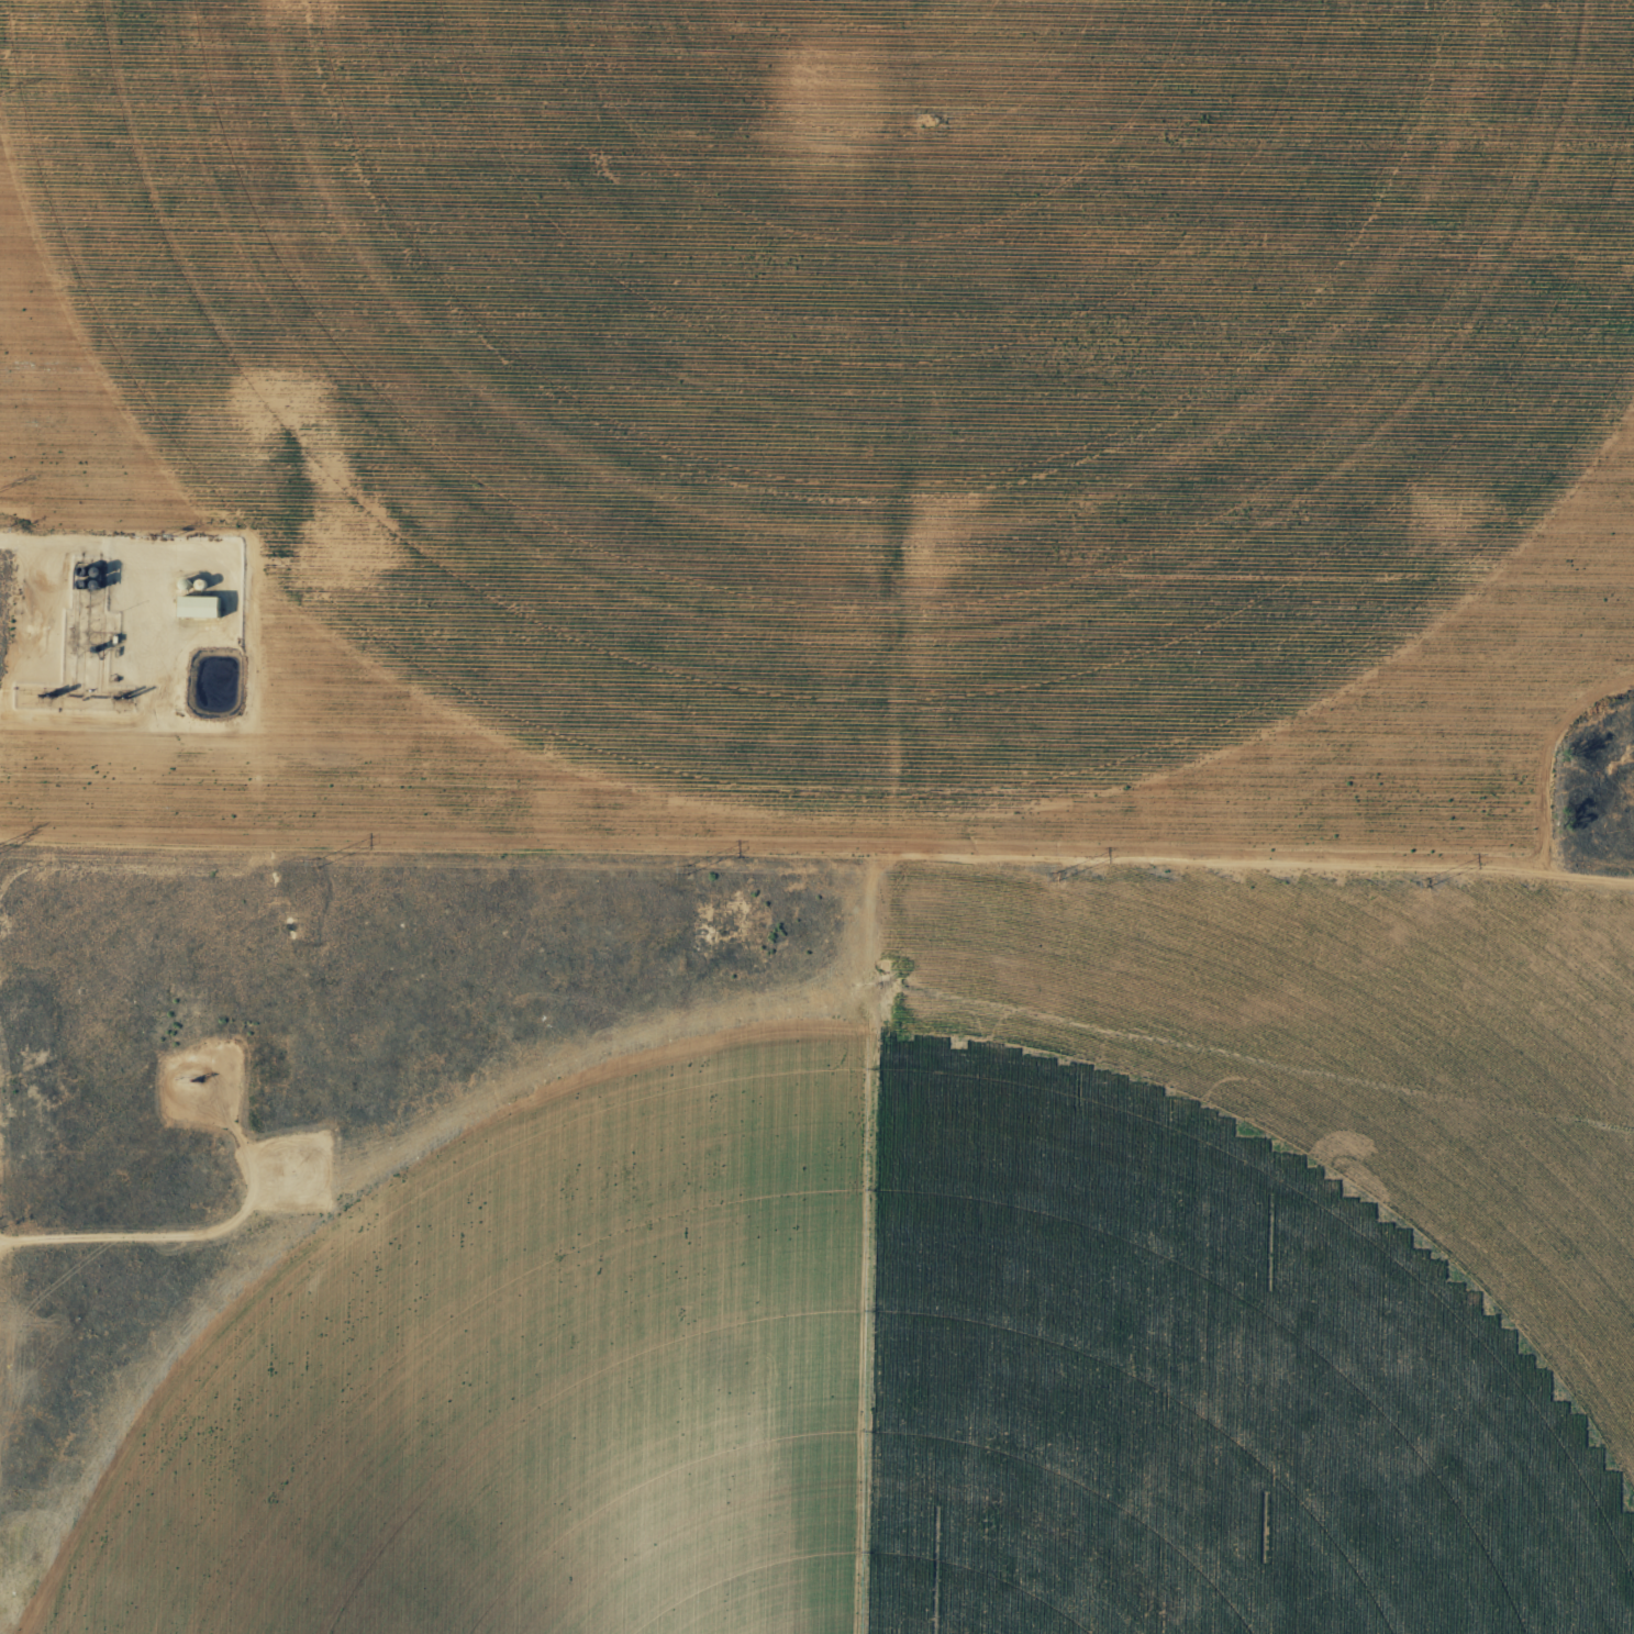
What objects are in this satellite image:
road: (816, 865)
petroleum well: (194, 1080)

